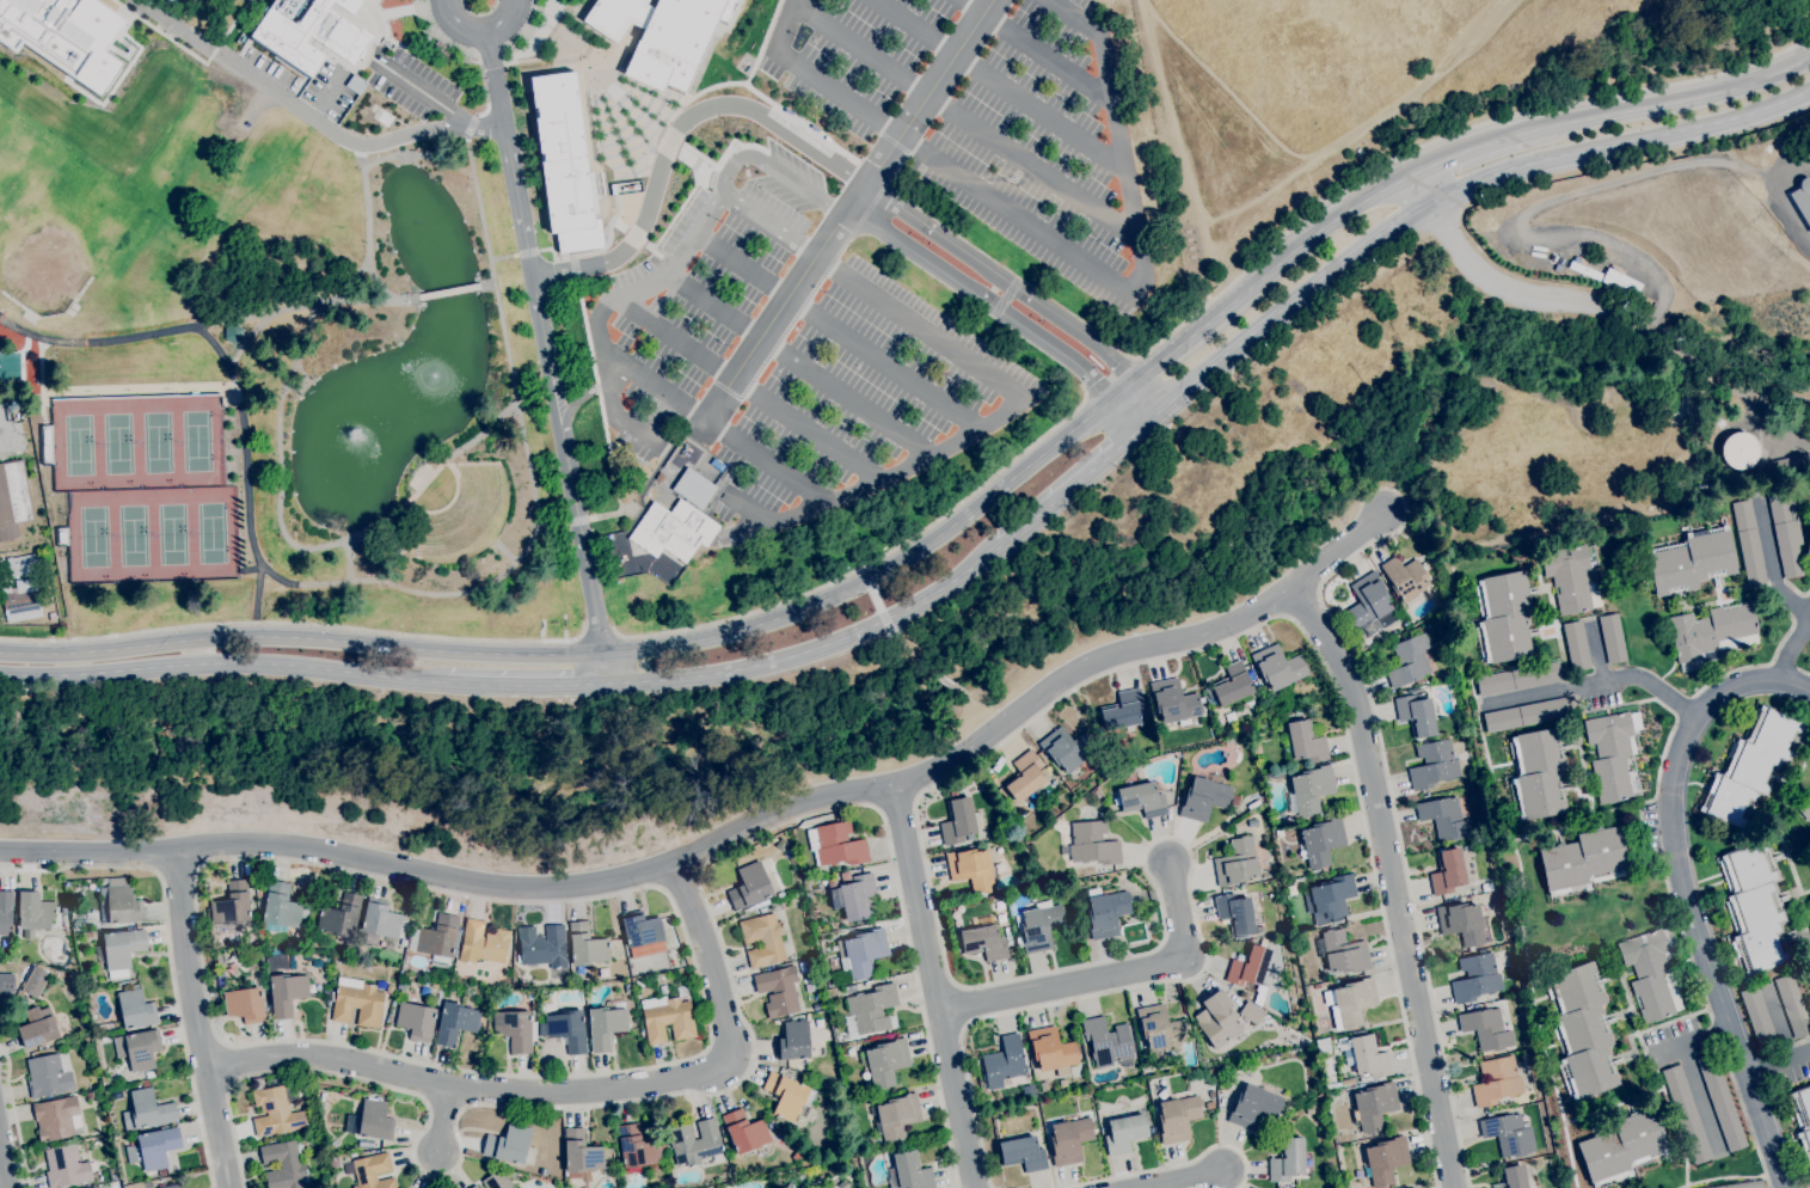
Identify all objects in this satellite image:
road: (786, 24)
road: (176, 27)
road: (478, 27)
building: (311, 31)
building: (67, 33)
building: (661, 33)
road: (762, 42)
building: (443, 50)
road: (1035, 50)
building: (324, 51)
road: (467, 54)
road: (528, 60)
road: (1228, 80)
parking lot: (411, 82)
road: (999, 85)
park: (1383, 90)
road: (425, 93)
road: (1668, 102)
parking lot: (987, 117)
road: (1166, 121)
road: (967, 122)
road: (1490, 122)
road: (802, 123)
road: (472, 125)
road: (483, 125)
road: (658, 125)
road: (1360, 127)
road: (658, 130)
road: (331, 131)
road: (669, 139)
park: (11, 140)
road: (1620, 142)
road: (1466, 151)
road: (508, 153)
road: (692, 157)
building: (566, 161)
road: (1799, 165)
road: (777, 166)
road: (701, 173)
road: (364, 178)
road: (657, 185)
road: (1421, 186)
building: (1803, 201)
road: (480, 209)
road: (849, 212)
road: (636, 234)
road: (655, 249)
road: (526, 251)
road: (589, 251)
road: (503, 256)
road: (572, 256)
road: (973, 257)
park: (47, 258)
road: (1081, 261)
road: (575, 269)
road: (1205, 270)
road: (487, 283)
road: (345, 287)
road: (449, 292)
road: (1289, 300)
road: (1609, 310)
road: (1000, 313)
road: (204, 322)
building: (233, 331)
road: (834, 331)
road: (1170, 332)
road: (247, 339)
parking lot: (794, 354)
road: (797, 363)
road: (625, 365)
building: (7, 367)
road: (1104, 374)
road: (746, 387)
road: (1011, 392)
road: (601, 411)
road: (619, 412)
road: (1, 428)
parking lot: (4, 429)
park: (196, 440)
park: (157, 441)
park: (117, 442)
park: (78, 443)
building: (1738, 451)
road: (1030, 461)
building: (1788, 463)
road: (567, 465)
road: (1076, 480)
building: (694, 488)
building: (13, 498)
building: (460, 510)
road: (577, 520)
road: (552, 523)
building: (673, 529)
park: (211, 531)
park: (172, 532)
building: (1786, 533)
park: (133, 534)
park: (93, 535)
building: (1749, 543)
building: (1808, 544)
road: (308, 546)
road: (348, 559)
building: (1692, 561)
road: (870, 562)
building: (20, 564)
road: (1773, 570)
building: (1571, 578)
building: (1405, 580)
road: (405, 587)
road: (257, 594)
road: (875, 599)
building: (1368, 600)
building: (23, 601)
road: (1301, 606)
building: (1503, 618)
road: (295, 623)
building: (1712, 633)
road: (600, 635)
road: (1118, 636)
road: (300, 637)
building: (1612, 638)
building: (1576, 645)
road: (810, 647)
road: (898, 647)
building: (1409, 660)
road: (221, 663)
road: (603, 667)
building: (1277, 667)
building: (1518, 679)
road: (1763, 679)
road: (939, 680)
road: (523, 682)
road: (1796, 682)
road: (1594, 684)
building: (1234, 686)
building: (1172, 702)
building: (1123, 710)
building: (1416, 715)
building: (1524, 715)
road: (988, 719)
building: (1305, 742)
building: (1068, 748)
building: (1612, 753)
building: (1434, 765)
building: (1750, 766)
building: (1289, 772)
building: (1538, 773)
building: (1631, 776)
building: (1025, 777)
building: (1309, 790)
building: (1001, 796)
building: (1203, 798)
building: (1141, 800)
building: (1007, 802)
road: (892, 803)
building: (1804, 807)
road: (1392, 808)
building: (1443, 817)
building: (1014, 820)
building: (958, 821)
road: (725, 832)
road: (919, 835)
building: (1321, 841)
building: (1092, 844)
building: (835, 845)
road: (511, 861)
building: (1584, 861)
building: (1237, 862)
road: (178, 869)
building: (971, 869)
building: (1447, 871)
road: (679, 877)
road: (1393, 880)
building: (749, 887)
building: (1332, 895)
building: (857, 896)
building: (119, 901)
building: (232, 905)
building: (1754, 907)
building: (282, 908)
building: (37, 910)
building: (6, 912)
building: (1106, 913)
building: (1235, 913)
building: (340, 917)
building: (1461, 923)
building: (1809, 924)
building: (380, 925)
building: (1039, 925)
building: (642, 930)
building: (762, 938)
building: (440, 941)
building: (984, 941)
building: (7, 942)
building: (483, 943)
building: (585, 945)
building: (542, 947)
building: (119, 950)
road: (170, 953)
building: (863, 953)
building: (1344, 953)
road: (1705, 954)
building: (225, 959)
building: (280, 961)
building: (1252, 969)
building: (1651, 973)
road: (1110, 975)
building: (1475, 976)
building: (658, 979)
building: (35, 981)
building: (639, 984)
building: (6, 985)
road: (935, 986)
building: (400, 988)
building: (778, 991)
building: (288, 993)
building: (1350, 1002)
building: (245, 1004)
building: (357, 1004)
building: (1792, 1005)
building: (135, 1009)
building: (871, 1009)
building: (1250, 1012)
building: (1757, 1017)
building: (1219, 1018)
road: (197, 1019)
building: (667, 1019)
building: (416, 1021)
building: (455, 1022)
building: (605, 1027)
building: (38, 1028)
building: (1486, 1028)
building: (514, 1029)
building: (566, 1029)
building: (1582, 1030)
building: (1160, 1031)
road: (1697, 1040)
building: (793, 1041)
building: (1108, 1043)
building: (47, 1046)
building: (139, 1048)
building: (1051, 1051)
road: (692, 1057)
building: (1367, 1057)
road: (750, 1061)
road: (1777, 1061)
building: (886, 1063)
building: (1004, 1063)
building: (821, 1065)
building: (1222, 1068)
building: (149, 1072)
building: (49, 1074)
building: (1346, 1082)
building: (1497, 1082)
road: (566, 1091)
building: (344, 1092)
building: (786, 1095)
building: (88, 1096)
building: (1720, 1101)
building: (1209, 1104)
building: (1374, 1106)
building: (1253, 1107)
building: (147, 1109)
building: (276, 1110)
building: (1686, 1114)
road: (14, 1117)
building: (897, 1117)
building: (1177, 1117)
building: (1803, 1117)
building: (56, 1119)
building: (799, 1119)
building: (372, 1120)
road: (443, 1122)
building: (744, 1132)
building: (1124, 1133)
building: (1509, 1134)
building: (1069, 1140)
building: (695, 1143)
building: (366, 1144)
building: (508, 1144)
building: (637, 1146)
building: (1622, 1146)
building: (154, 1149)
building: (582, 1152)
building: (1023, 1153)
building: (797, 1156)
building: (1385, 1159)
building: (335, 1161)
building: (1287, 1161)
building: (67, 1165)
building: (283, 1165)
road: (1174, 1165)
road: (4, 1168)
building: (373, 1171)
building: (161, 1172)
building: (908, 1172)
building: (1511, 1177)
road: (1180, 1178)
building: (497, 1180)
building: (774, 1183)
building: (1743, 1184)
building: (170, 1186)
building: (93, 1187)
building: (474, 1187)
building: (1412, 1187)

